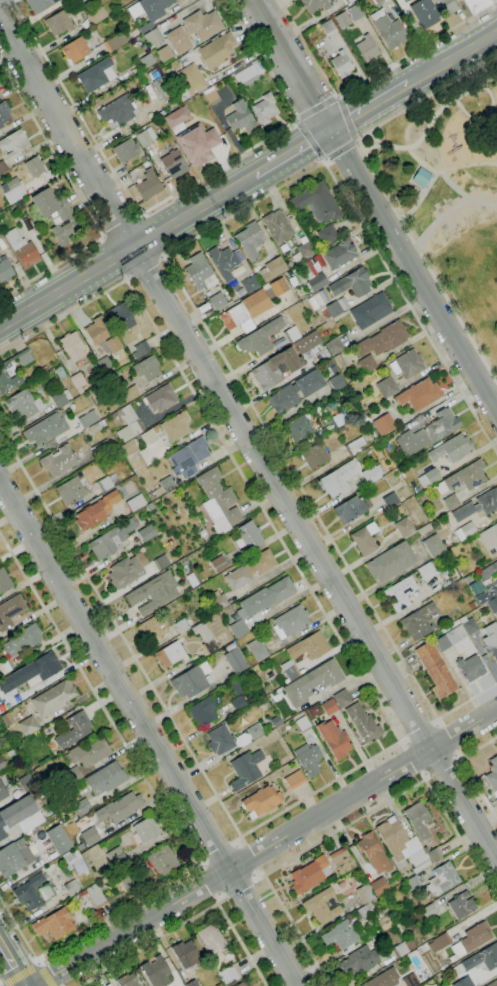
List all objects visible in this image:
building: (348, 1)
building: (378, 2)
building: (85, 3)
road: (495, 3)
building: (40, 5)
building: (315, 5)
building: (476, 5)
building: (446, 6)
building: (149, 11)
building: (356, 12)
building: (425, 13)
building: (97, 16)
building: (343, 20)
building: (60, 21)
building: (202, 24)
building: (328, 28)
building: (389, 29)
building: (153, 36)
building: (179, 41)
building: (115, 42)
building: (367, 49)
building: (75, 50)
building: (217, 51)
road: (453, 57)
building: (147, 60)
road: (292, 64)
building: (342, 64)
building: (97, 75)
building: (247, 76)
building: (191, 79)
road: (369, 79)
building: (162, 87)
building: (211, 96)
road: (336, 96)
flagpole: (477, 103)
road: (369, 106)
road: (316, 107)
building: (265, 108)
building: (118, 110)
building: (4, 113)
road: (482, 115)
building: (176, 116)
building: (240, 117)
road: (346, 118)
road: (432, 118)
road: (296, 120)
traffic signals: (331, 130)
building: (145, 137)
road: (309, 139)
road: (356, 142)
building: (14, 144)
building: (197, 144)
road: (366, 146)
building: (126, 150)
road: (340, 150)
road: (293, 152)
road: (324, 159)
street lamp: (424, 159)
building: (174, 164)
building: (2, 167)
building: (35, 167)
building: (422, 177)
road: (433, 177)
building: (148, 185)
road: (455, 188)
building: (13, 190)
road: (383, 191)
park: (449, 193)
road: (169, 197)
road: (81, 201)
building: (316, 203)
road: (452, 214)
building: (2, 215)
building: (65, 217)
street lamp: (463, 219)
road: (119, 226)
building: (277, 226)
building: (327, 235)
building: (251, 241)
building: (22, 249)
road: (127, 251)
building: (303, 252)
building: (339, 254)
road: (161, 257)
building: (223, 261)
road: (143, 266)
building: (273, 269)
road: (415, 269)
building: (5, 270)
building: (200, 273)
road: (126, 277)
building: (313, 278)
building: (352, 283)
building: (250, 284)
building: (279, 287)
road: (184, 292)
building: (217, 301)
building: (324, 307)
building: (246, 311)
building: (371, 311)
building: (122, 317)
building: (291, 334)
building: (103, 335)
building: (260, 338)
building: (383, 339)
building: (306, 342)
building: (72, 346)
building: (334, 346)
building: (141, 349)
building: (338, 361)
building: (367, 363)
building: (328, 364)
building: (407, 364)
building: (105, 366)
building: (147, 368)
building: (276, 368)
building: (334, 370)
building: (3, 372)
building: (60, 373)
building: (77, 380)
building: (337, 382)
building: (387, 387)
building: (296, 391)
building: (131, 393)
building: (419, 394)
building: (60, 398)
building: (161, 398)
building: (24, 405)
building: (89, 419)
building: (339, 419)
building: (129, 424)
building: (384, 424)
building: (97, 426)
building: (176, 426)
building: (300, 428)
building: (46, 430)
building: (429, 433)
building: (148, 437)
road: (247, 439)
building: (354, 447)
building: (101, 448)
building: (452, 449)
building: (314, 455)
building: (188, 458)
building: (59, 461)
building: (400, 469)
building: (372, 474)
building: (429, 478)
building: (463, 478)
building: (338, 479)
building: (104, 484)
building: (167, 484)
building: (71, 491)
building: (391, 500)
building: (219, 502)
building: (451, 502)
building: (136, 503)
building: (477, 505)
building: (149, 506)
building: (350, 509)
building: (96, 511)
building: (398, 511)
building: (404, 527)
building: (465, 531)
building: (147, 533)
building: (250, 535)
building: (489, 537)
building: (365, 539)
building: (110, 540)
building: (434, 546)
building: (161, 562)
building: (184, 562)
building: (390, 562)
building: (218, 564)
building: (250, 569)
building: (428, 570)
building: (488, 571)
building: (125, 572)
building: (191, 580)
building: (4, 581)
building: (153, 593)
building: (487, 593)
building: (400, 594)
building: (267, 596)
building: (218, 601)
building: (492, 604)
building: (472, 605)
building: (10, 611)
building: (419, 621)
building: (291, 622)
building: (469, 625)
building: (182, 626)
building: (153, 629)
building: (238, 629)
building: (205, 638)
building: (451, 638)
building: (491, 639)
building: (22, 640)
building: (257, 649)
building: (171, 654)
building: (311, 657)
building: (234, 659)
building: (5, 666)
building: (470, 668)
building: (436, 671)
building: (31, 672)
building: (312, 682)
building: (189, 683)
building: (237, 686)
building: (54, 698)
building: (342, 699)
building: (239, 703)
building: (329, 707)
building: (203, 711)
building: (7, 719)
building: (276, 721)
building: (363, 723)
building: (303, 724)
building: (28, 726)
building: (74, 730)
road: (393, 730)
road: (418, 730)
road: (149, 733)
building: (231, 739)
building: (334, 739)
road: (450, 739)
building: (12, 751)
building: (90, 752)
building: (308, 759)
road: (410, 761)
building: (3, 764)
building: (245, 770)
road: (444, 770)
road: (469, 771)
building: (71, 776)
building: (493, 776)
building: (106, 779)
building: (295, 780)
building: (27, 783)
building: (3, 792)
building: (261, 801)
building: (82, 807)
building: (119, 808)
road: (163, 811)
building: (20, 816)
building: (418, 819)
road: (349, 824)
building: (144, 829)
building: (90, 836)
building: (59, 840)
building: (402, 846)
road: (218, 850)
road: (269, 850)
building: (373, 853)
building: (433, 854)
road: (253, 856)
building: (11, 858)
building: (115, 859)
building: (76, 861)
building: (162, 861)
building: (342, 861)
building: (310, 875)
building: (127, 880)
building: (441, 880)
building: (412, 883)
road: (206, 884)
building: (379, 887)
building: (72, 888)
road: (241, 889)
building: (43, 891)
building: (30, 892)
building: (365, 893)
building: (92, 895)
building: (461, 905)
building: (321, 906)
building: (429, 910)
road: (190, 921)
building: (54, 924)
building: (344, 937)
building: (212, 939)
building: (472, 939)
building: (439, 942)
building: (400, 950)
building: (187, 954)
building: (482, 958)
road: (15, 960)
building: (358, 961)
building: (156, 971)
road: (18, 973)
road: (44, 974)
building: (229, 975)
building: (383, 978)
building: (410, 980)
building: (126, 981)
building: (463, 982)
building: (193, 983)
building: (492, 983)
building: (242, 984)
building: (108, 985)
building: (218, 985)

